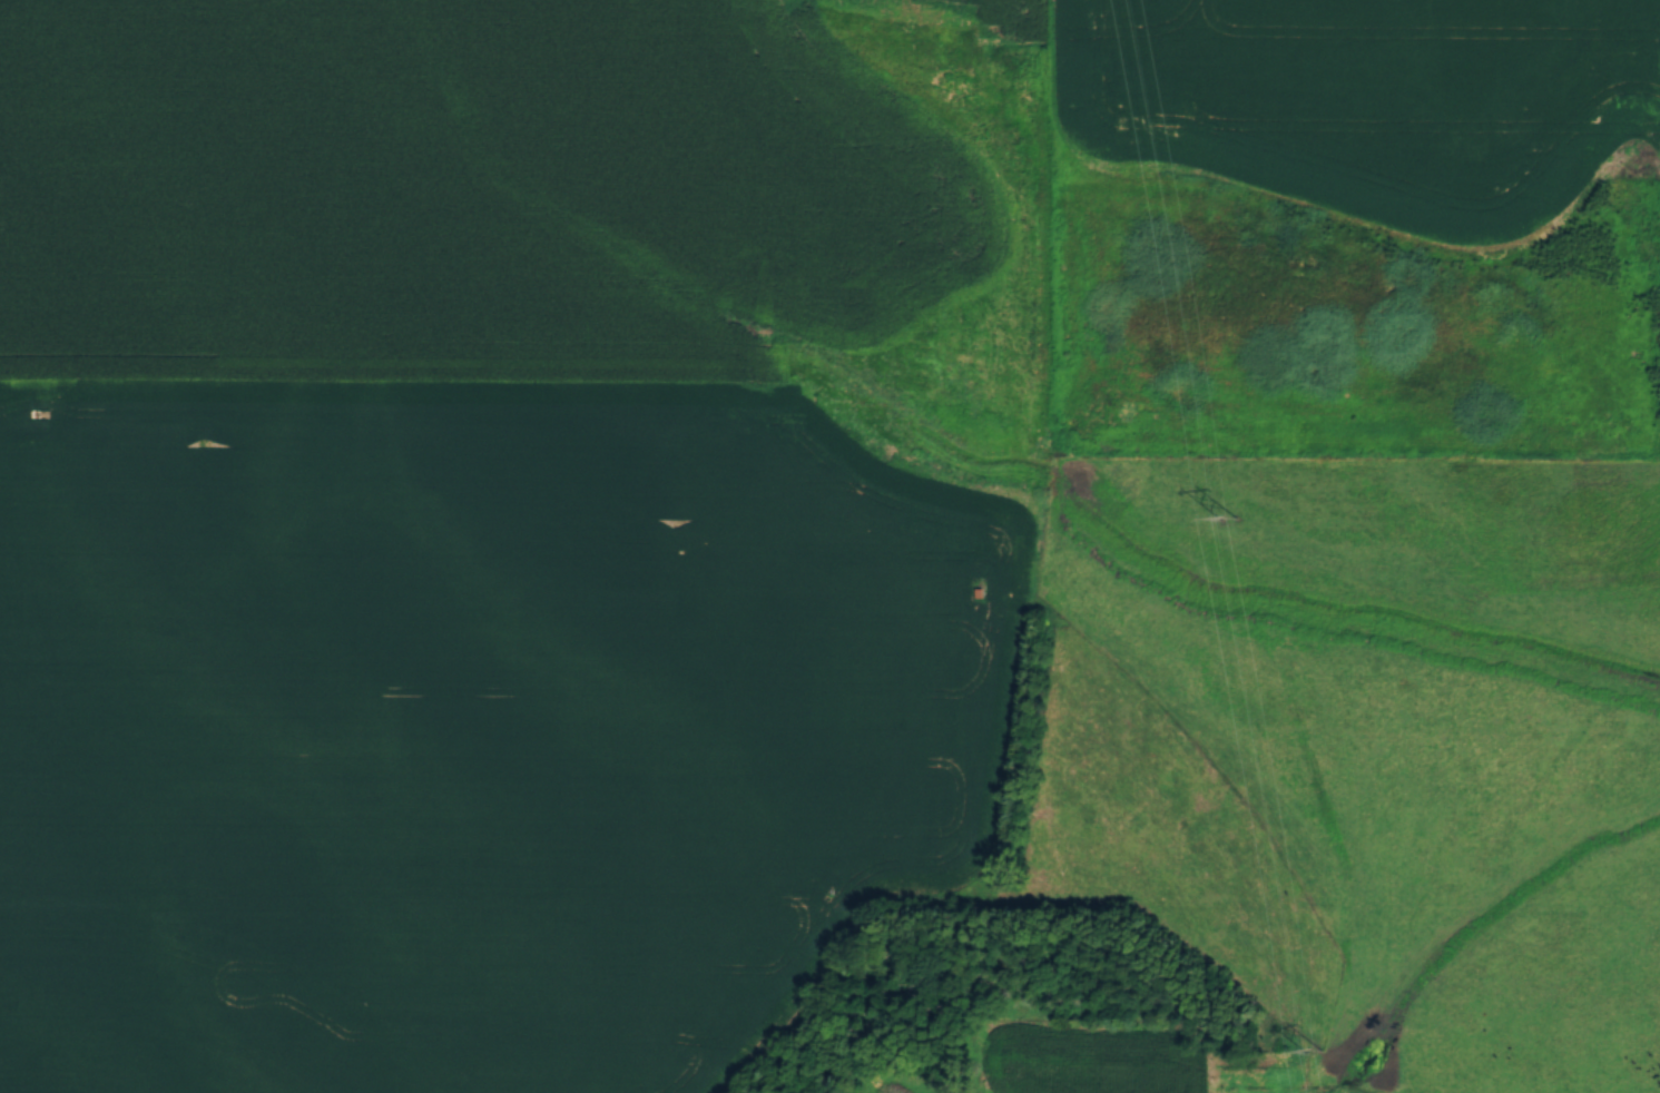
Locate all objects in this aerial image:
power tower: (1225, 512)
power tower: (1313, 1047)

